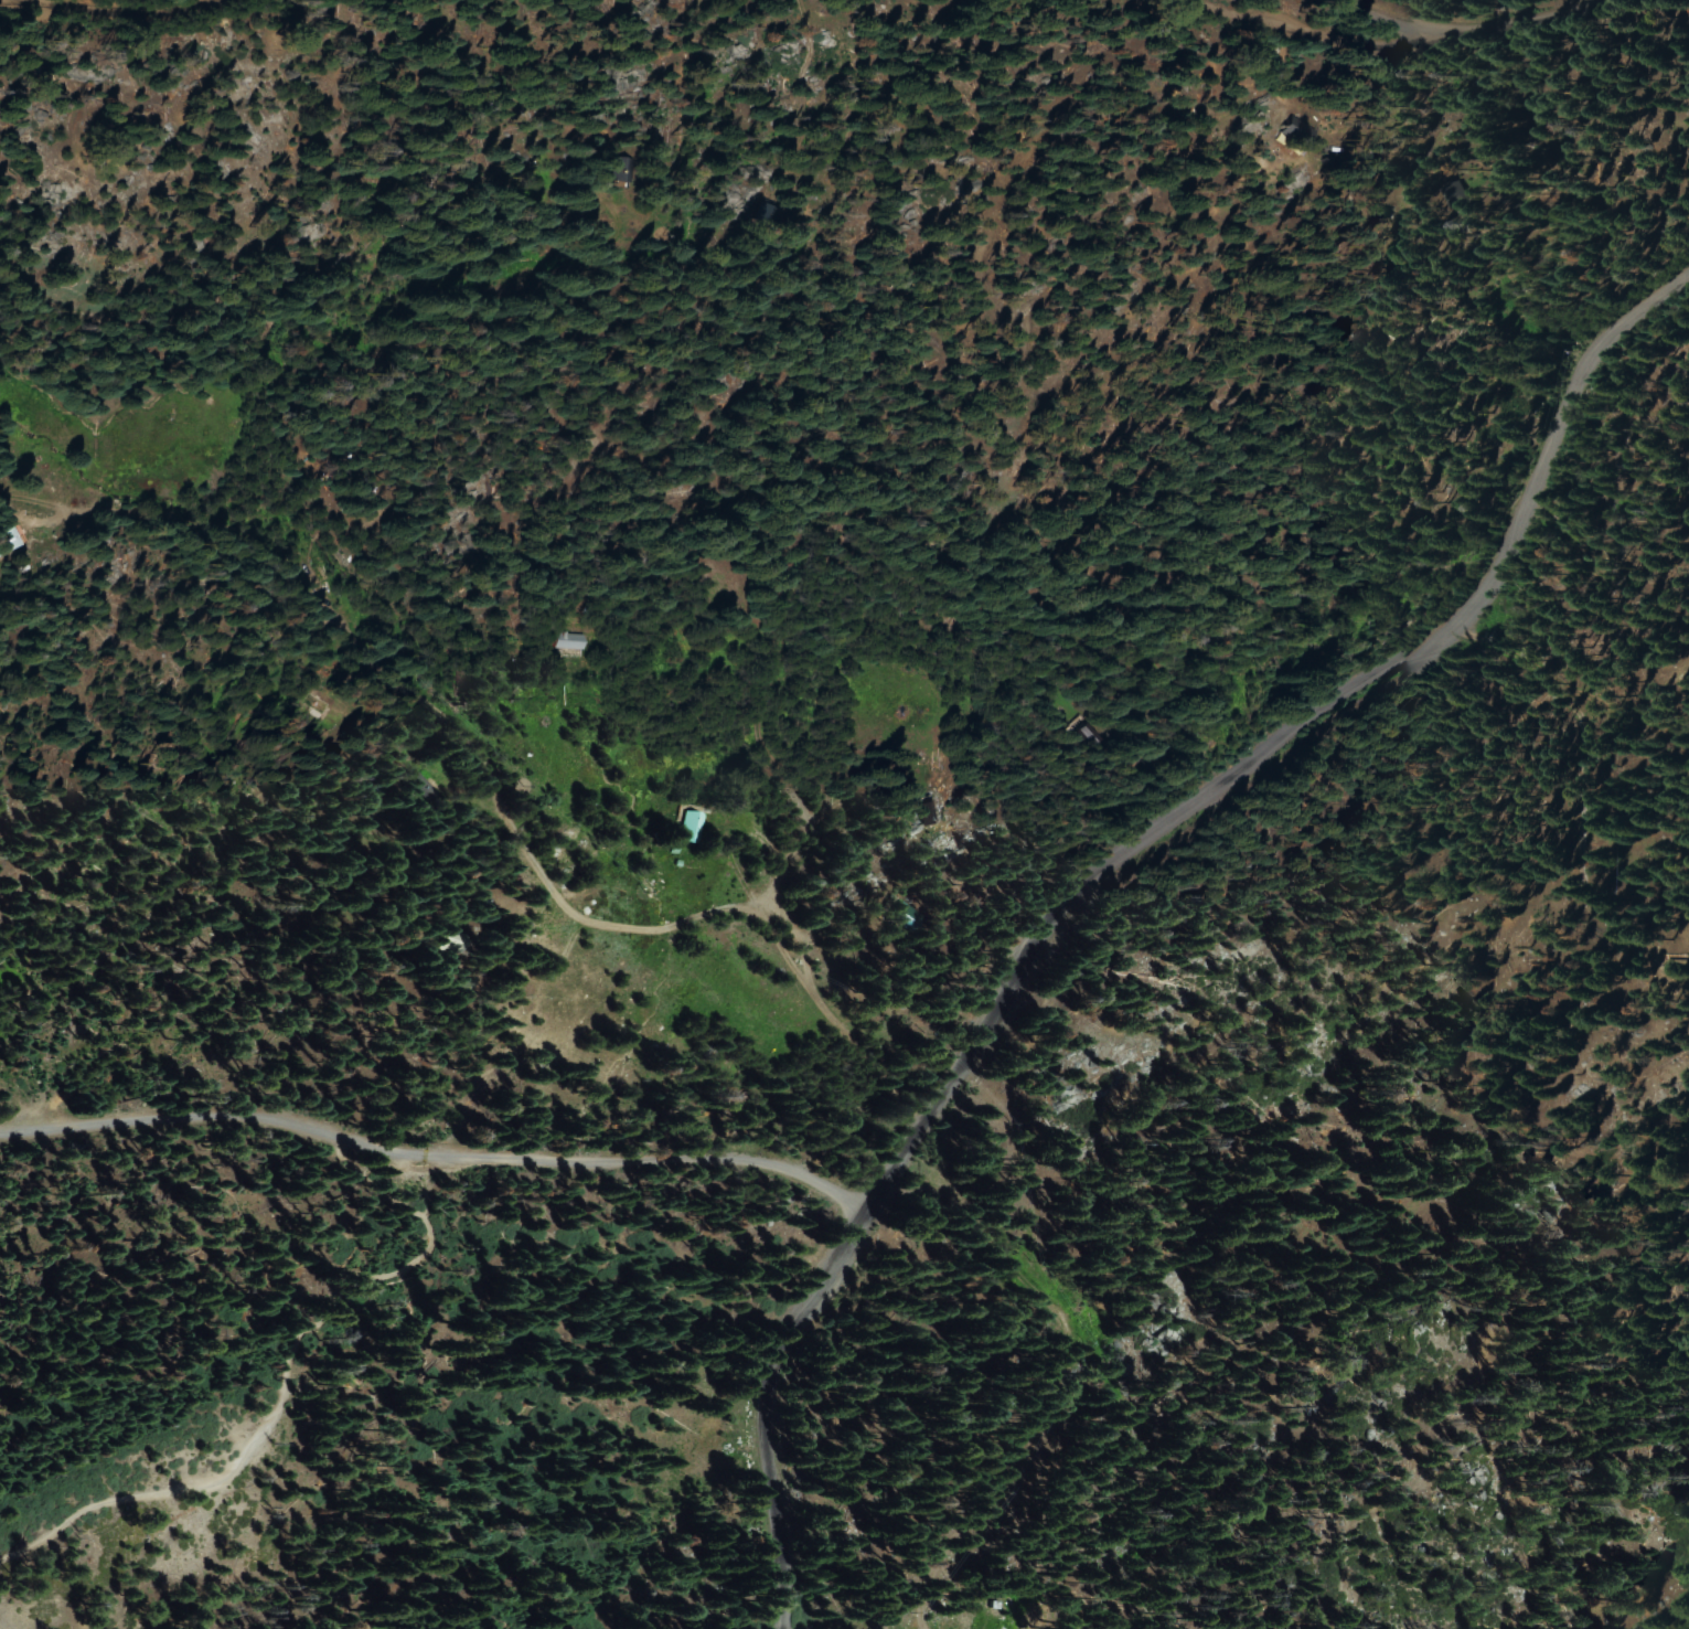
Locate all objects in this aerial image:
road: (114, 10)
road: (1315, 35)
road: (1466, 35)
building: (1296, 130)
building: (627, 169)
building: (1444, 192)
building: (762, 214)
building: (8, 540)
building: (571, 640)
building: (701, 670)
building: (1098, 736)
road: (490, 780)
building: (424, 787)
building: (924, 813)
building: (690, 823)
road: (1100, 867)
building: (901, 914)
building: (1678, 965)
road: (432, 1159)
road: (385, 1290)
building: (983, 1604)

